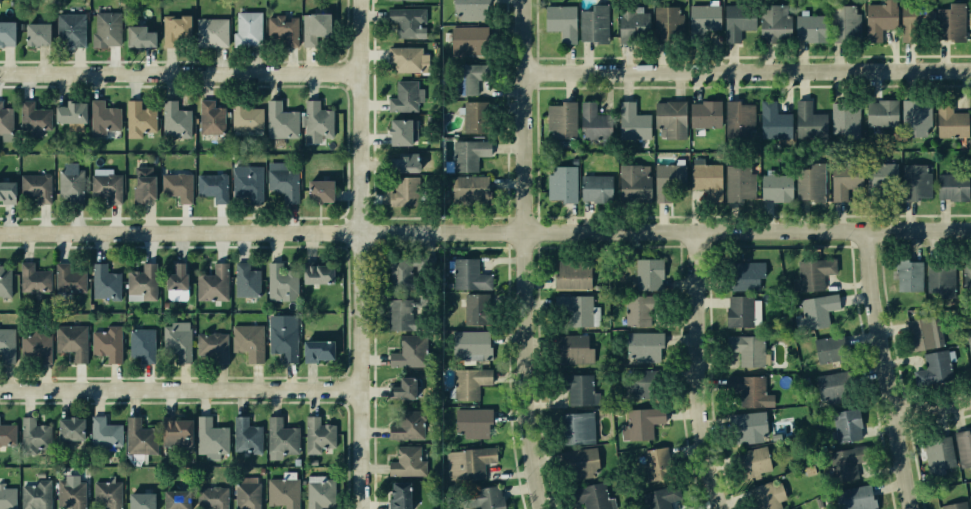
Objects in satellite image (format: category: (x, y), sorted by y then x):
building: (418, 0)
building: (467, 10)
building: (770, 16)
building: (702, 19)
building: (558, 20)
building: (736, 20)
building: (880, 20)
building: (404, 21)
building: (950, 22)
building: (916, 23)
building: (592, 24)
building: (662, 24)
building: (845, 24)
building: (631, 25)
building: (809, 26)
building: (311, 27)
building: (970, 27)
building: (106, 28)
building: (281, 28)
building: (246, 29)
building: (67, 30)
building: (209, 31)
building: (173, 32)
building: (5, 33)
building: (32, 34)
building: (135, 36)
building: (468, 41)
building: (403, 59)
road: (750, 69)
road: (181, 74)
building: (467, 80)
building: (405, 96)
building: (68, 112)
building: (703, 112)
building: (912, 114)
building: (970, 115)
building: (31, 116)
building: (474, 116)
building: (738, 116)
building: (806, 116)
building: (5, 117)
building: (209, 117)
building: (244, 117)
building: (669, 117)
building: (843, 117)
building: (876, 117)
building: (103, 118)
building: (140, 118)
building: (558, 119)
building: (279, 120)
building: (590, 120)
building: (630, 120)
building: (175, 121)
building: (772, 121)
building: (947, 121)
building: (314, 122)
building: (399, 131)
building: (461, 156)
building: (399, 165)
building: (970, 176)
building: (881, 179)
building: (283, 180)
building: (669, 181)
building: (915, 181)
building: (244, 182)
building: (738, 182)
building: (70, 183)
building: (141, 183)
building: (811, 183)
building: (211, 184)
building: (560, 184)
building: (632, 184)
building: (703, 184)
building: (175, 185)
building: (106, 186)
building: (844, 186)
building: (951, 186)
building: (35, 187)
building: (773, 187)
building: (459, 188)
building: (6, 191)
building: (315, 191)
building: (400, 191)
building: (595, 191)
road: (485, 233)
road: (364, 254)
road: (528, 255)
building: (393, 269)
building: (315, 271)
building: (648, 272)
building: (463, 273)
building: (570, 273)
building: (67, 274)
building: (172, 274)
building: (743, 275)
building: (812, 275)
building: (908, 276)
building: (31, 277)
building: (244, 278)
building: (282, 279)
building: (942, 279)
building: (7, 281)
building: (103, 281)
building: (138, 282)
building: (967, 282)
building: (211, 283)
building: (471, 309)
building: (738, 310)
building: (638, 311)
building: (572, 312)
building: (815, 312)
building: (398, 315)
building: (920, 332)
building: (280, 338)
building: (71, 341)
building: (969, 341)
building: (103, 342)
building: (141, 343)
building: (177, 343)
building: (247, 343)
building: (466, 343)
building: (7, 345)
building: (33, 345)
building: (210, 347)
building: (314, 349)
building: (641, 349)
building: (746, 349)
building: (574, 350)
building: (822, 350)
building: (405, 353)
building: (933, 366)
road: (891, 370)
road: (703, 372)
building: (467, 382)
building: (636, 387)
building: (828, 388)
building: (398, 389)
building: (572, 389)
road: (182, 391)
building: (747, 392)
road: (935, 406)
building: (469, 423)
building: (638, 424)
building: (66, 427)
building: (406, 427)
building: (748, 428)
building: (577, 429)
building: (839, 429)
building: (99, 431)
building: (171, 432)
building: (7, 433)
building: (133, 434)
building: (245, 434)
building: (317, 434)
building: (209, 435)
building: (30, 436)
building: (281, 437)
building: (962, 449)
building: (936, 453)
building: (402, 462)
building: (751, 462)
building: (582, 463)
building: (648, 464)
building: (465, 465)
building: (841, 467)
building: (281, 492)
building: (70, 493)
building: (244, 493)
building: (105, 494)
building: (36, 495)
building: (316, 495)
building: (765, 495)
building: (137, 496)
building: (396, 496)
building: (588, 496)
building: (7, 497)
building: (173, 497)
building: (210, 497)
building: (657, 497)
building: (851, 497)
building: (970, 499)
building: (478, 502)
building: (954, 506)
building: (793, 508)

